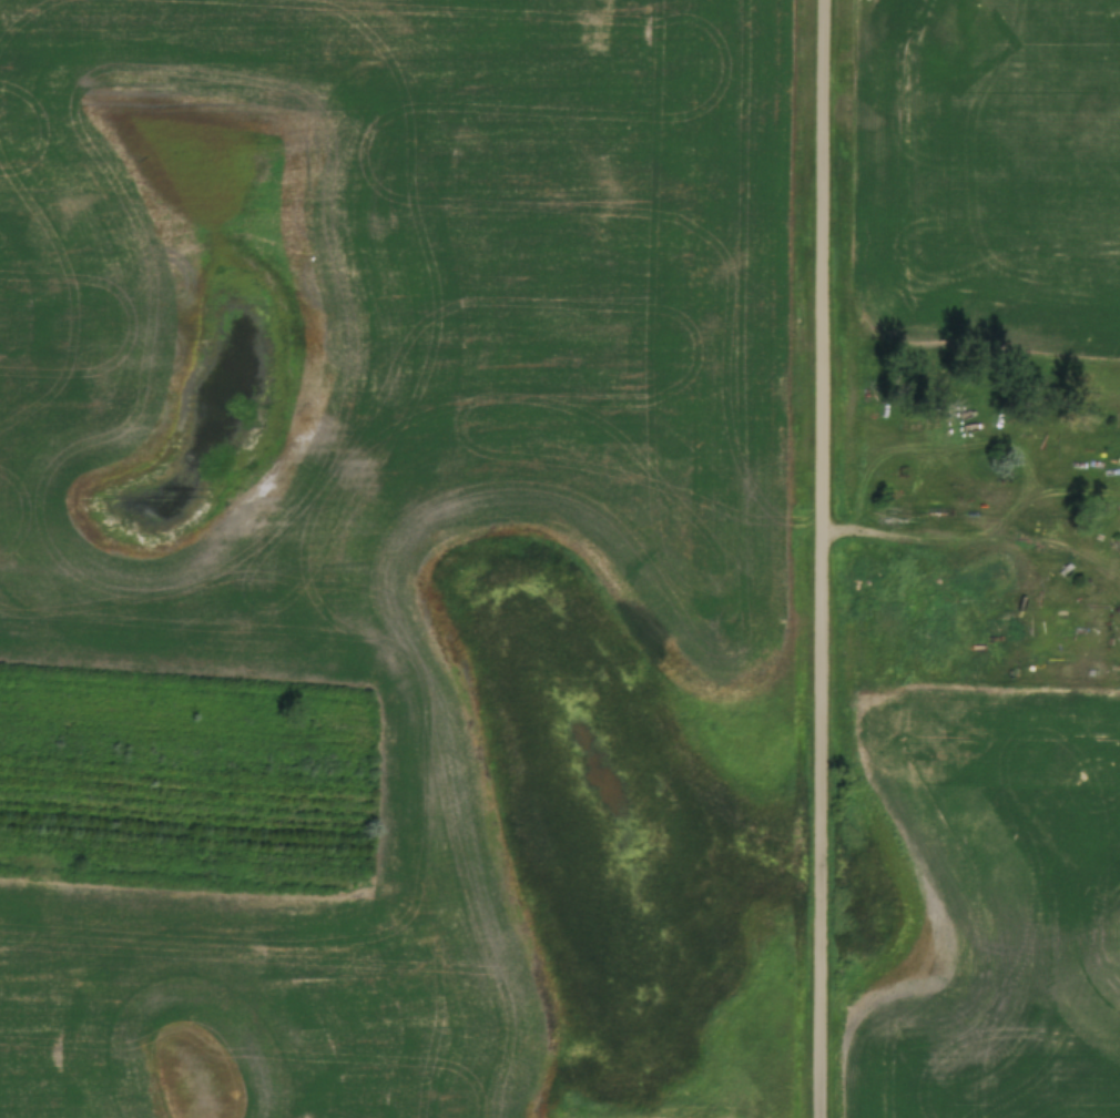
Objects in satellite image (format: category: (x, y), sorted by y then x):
road: (819, 559)

